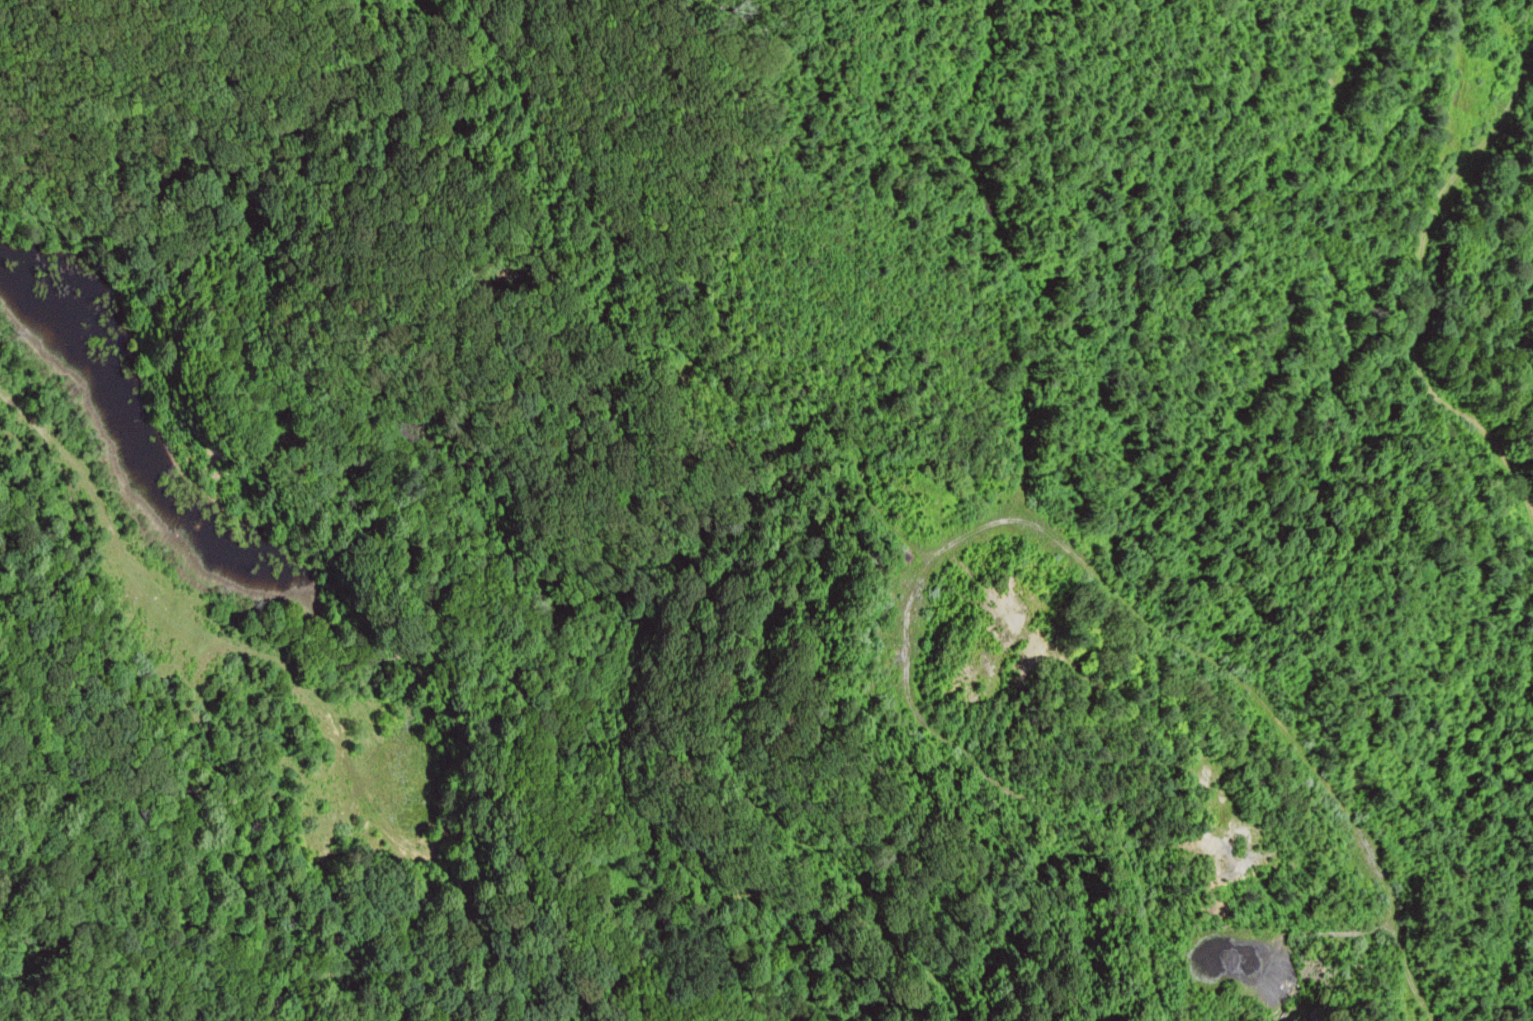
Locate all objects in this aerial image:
road: (1425, 313)
road: (1002, 525)
road: (308, 694)

